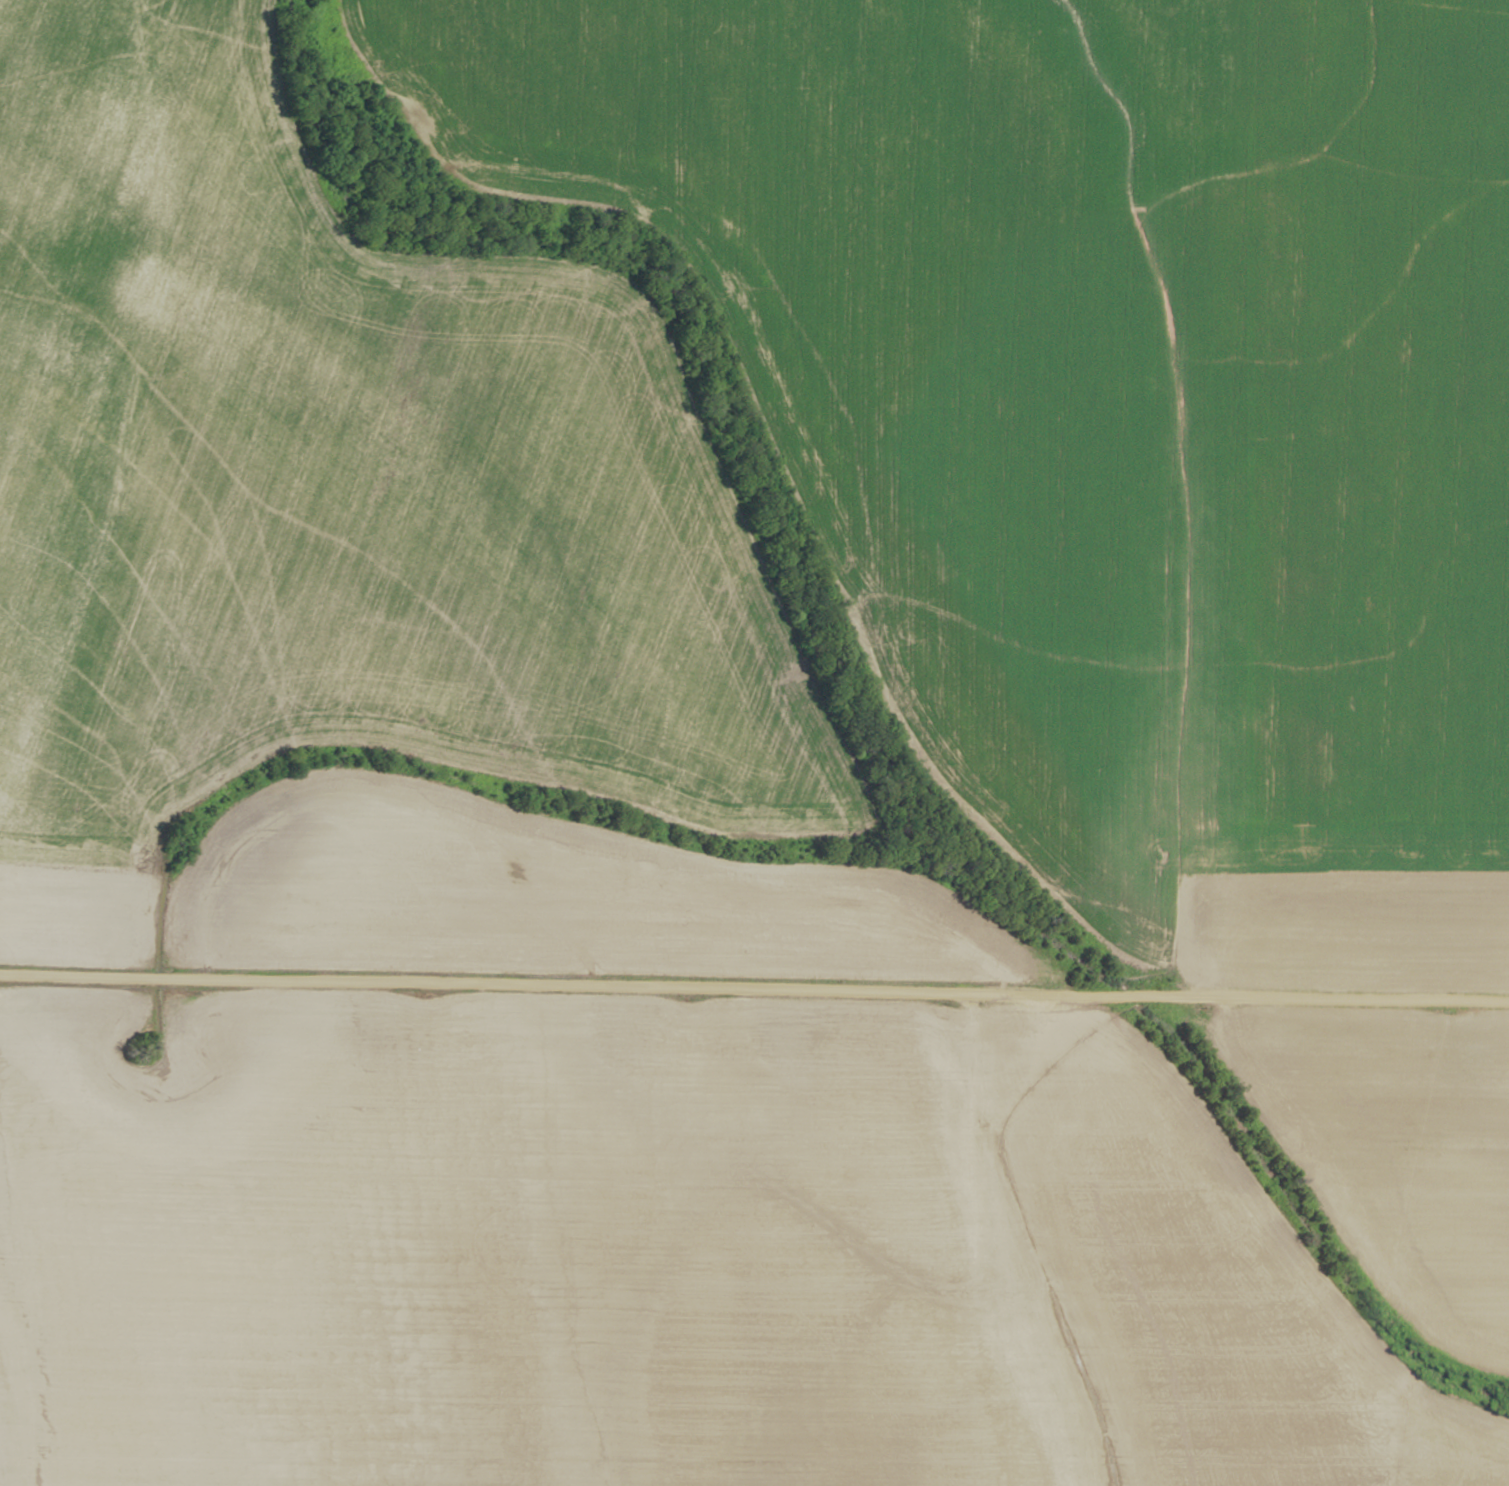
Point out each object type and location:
road: (754, 976)
road: (986, 1232)
road: (22, 1295)

